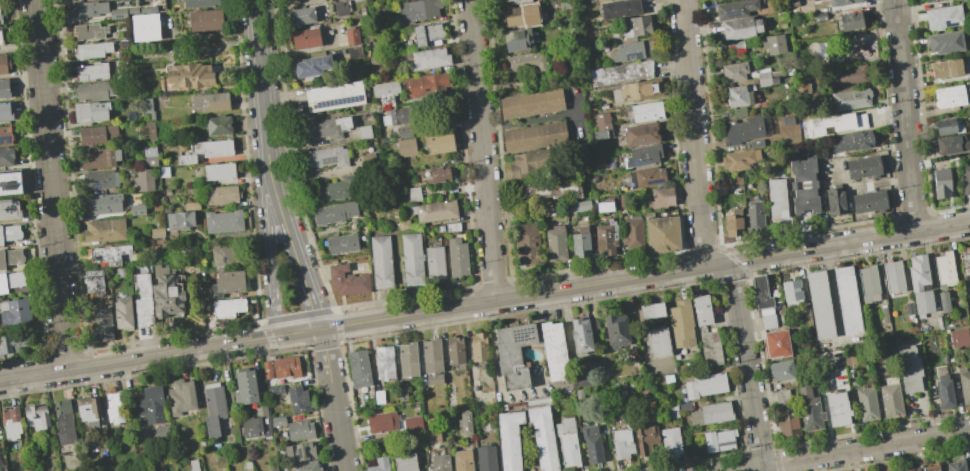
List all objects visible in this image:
building: (506, 0)
building: (599, 0)
building: (711, 0)
building: (518, 1)
building: (842, 2)
building: (200, 3)
building: (87, 8)
building: (340, 8)
building: (619, 8)
building: (734, 9)
building: (144, 10)
building: (418, 10)
building: (121, 12)
rooftop solar panel: (732, 14)
building: (301, 15)
building: (521, 15)
building: (819, 16)
building: (943, 17)
building: (205, 19)
building: (0, 20)
building: (850, 20)
building: (632, 26)
rooftop solar panel: (949, 26)
building: (144, 27)
building: (740, 28)
building: (90, 31)
building: (426, 34)
rooftop solar panel: (628, 34)
building: (351, 36)
building: (306, 38)
building: (0, 39)
building: (519, 39)
building: (945, 42)
building: (773, 44)
building: (736, 46)
park: (838, 49)
building: (91, 50)
building: (354, 51)
building: (631, 51)
building: (428, 59)
building: (524, 62)
building: (3, 64)
building: (312, 66)
building: (945, 68)
building: (733, 71)
building: (92, 72)
building: (621, 73)
building: (188, 75)
building: (850, 75)
building: (764, 78)
building: (426, 85)
building: (4, 88)
building: (95, 90)
building: (632, 90)
building: (385, 93)
building: (334, 95)
building: (738, 96)
building: (948, 96)
building: (851, 99)
road: (263, 100)
building: (211, 101)
building: (530, 103)
building: (147, 104)
building: (5, 111)
building: (90, 111)
building: (646, 112)
building: (738, 112)
building: (402, 115)
road: (905, 115)
building: (602, 121)
building: (833, 123)
building: (218, 125)
building: (947, 125)
building: (323, 128)
building: (147, 129)
building: (742, 130)
building: (404, 131)
building: (364, 132)
building: (96, 134)
building: (599, 134)
building: (641, 134)
building: (5, 135)
building: (534, 136)
rooftop solar panel: (4, 139)
building: (851, 141)
building: (439, 142)
building: (756, 143)
building: (950, 145)
building: (406, 147)
building: (206, 150)
road: (482, 150)
building: (149, 155)
building: (643, 155)
building: (6, 156)
building: (98, 157)
building: (325, 157)
building: (368, 157)
building: (739, 159)
rooftop solar panel: (327, 161)
building: (529, 163)
building: (862, 167)
building: (218, 171)
building: (438, 174)
building: (646, 177)
building: (100, 179)
building: (965, 179)
building: (142, 180)
rooftop solar panel: (654, 182)
building: (941, 182)
building: (10, 183)
building: (803, 184)
road: (872, 184)
road: (52, 185)
rooftop solar panel: (13, 187)
rooftop solar panel: (96, 188)
building: (339, 189)
building: (552, 192)
building: (414, 194)
building: (222, 195)
building: (661, 197)
building: (776, 198)
building: (834, 200)
building: (868, 201)
building: (102, 203)
building: (579, 206)
building: (605, 206)
building: (9, 208)
building: (137, 209)
building: (433, 210)
building: (333, 213)
building: (754, 216)
building: (179, 220)
building: (223, 221)
building: (733, 223)
building: (403, 224)
building: (452, 226)
building: (104, 230)
building: (156, 232)
building: (632, 232)
building: (9, 233)
building: (661, 233)
building: (606, 237)
building: (580, 242)
road: (701, 242)
building: (342, 243)
building: (526, 243)
building: (555, 243)
building: (108, 253)
building: (226, 255)
building: (10, 257)
building: (457, 257)
building: (411, 260)
road: (298, 261)
building: (381, 262)
building: (434, 262)
road: (270, 265)
building: (965, 267)
building: (944, 268)
road: (676, 270)
building: (121, 272)
building: (893, 276)
building: (10, 280)
building: (93, 280)
building: (347, 280)
building: (229, 281)
building: (867, 282)
building: (919, 283)
building: (761, 292)
building: (791, 292)
building: (166, 293)
building: (846, 299)
building: (142, 300)
building: (943, 302)
building: (819, 304)
building: (227, 307)
building: (908, 308)
road: (334, 309)
building: (701, 309)
building: (650, 310)
building: (15, 312)
building: (122, 312)
road: (317, 312)
building: (883, 314)
road: (293, 317)
road: (300, 317)
road: (271, 320)
road: (320, 321)
building: (768, 321)
building: (100, 324)
building: (681, 324)
road: (337, 325)
building: (615, 328)
road: (321, 329)
road: (303, 332)
road: (323, 335)
building: (580, 335)
rooftop solar panel: (521, 336)
building: (958, 338)
building: (658, 341)
road: (339, 342)
building: (775, 343)
road: (322, 345)
building: (478, 346)
building: (9, 348)
road: (306, 348)
building: (710, 348)
building: (455, 350)
building: (554, 350)
building: (513, 354)
building: (431, 355)
building: (407, 359)
road: (130, 360)
building: (384, 362)
building: (285, 366)
building: (359, 368)
building: (266, 369)
building: (909, 369)
building: (781, 370)
building: (433, 378)
building: (704, 385)
building: (964, 385)
building: (245, 387)
building: (275, 390)
building: (944, 392)
building: (401, 394)
building: (781, 396)
building: (181, 397)
building: (378, 397)
building: (890, 397)
building: (297, 399)
road: (334, 403)
building: (866, 403)
building: (149, 405)
building: (114, 407)
building: (809, 407)
building: (213, 408)
building: (88, 409)
building: (837, 409)
building: (711, 413)
building: (36, 417)
building: (277, 421)
building: (382, 421)
building: (64, 422)
building: (412, 422)
building: (429, 422)
building: (464, 422)
building: (11, 423)
building: (787, 424)
building: (265, 426)
building: (250, 427)
building: (300, 430)
building: (161, 431)
building: (432, 434)
building: (542, 437)
building: (645, 437)
building: (509, 439)
building: (718, 440)
building: (670, 441)
building: (567, 443)
building: (591, 443)
building: (621, 443)
rooftop solar panel: (726, 445)
building: (299, 452)
road: (848, 452)
rooftop solar panel: (307, 453)
rooftop solar panel: (300, 454)
building: (485, 457)
building: (463, 460)
building: (404, 462)
building: (439, 462)
building: (379, 464)
building: (193, 465)
building: (956, 465)
building: (247, 466)
building: (302, 466)
building: (273, 467)
building: (930, 468)
building: (222, 469)
building: (161, 470)
building: (887, 470)
building: (911, 470)

